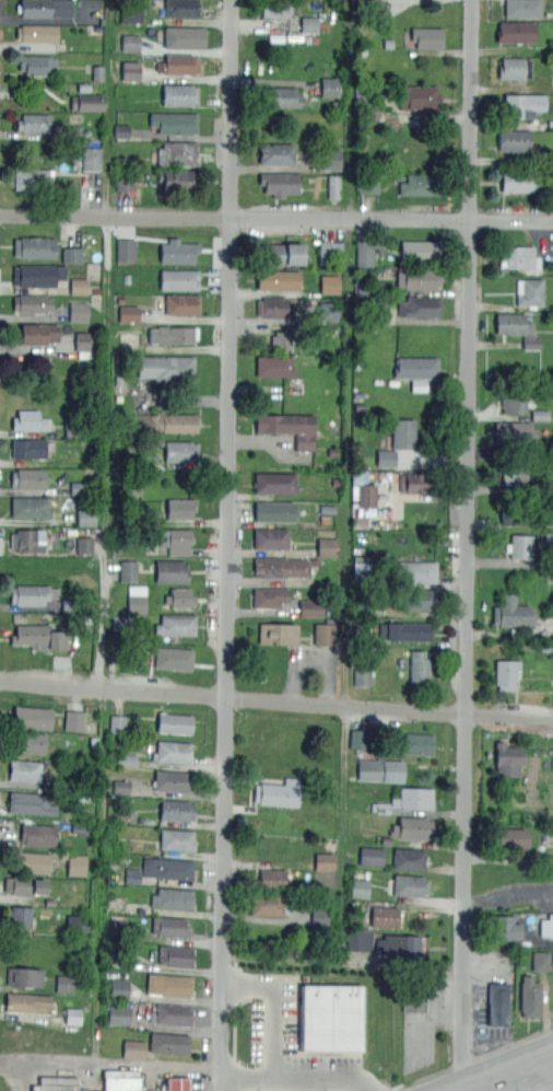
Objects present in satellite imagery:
building: (45, 8)
building: (180, 8)
building: (274, 8)
building: (521, 8)
building: (131, 15)
building: (309, 24)
building: (515, 31)
building: (36, 33)
building: (425, 36)
building: (184, 37)
building: (130, 43)
building: (36, 63)
building: (178, 63)
building: (514, 67)
building: (130, 70)
building: (330, 86)
building: (178, 94)
building: (417, 95)
building: (279, 96)
building: (87, 102)
building: (521, 105)
building: (175, 121)
building: (34, 123)
building: (121, 129)
building: (514, 140)
building: (275, 152)
building: (177, 153)
building: (91, 158)
building: (331, 159)
building: (32, 178)
building: (177, 179)
building: (518, 179)
building: (279, 183)
building: (368, 183)
building: (125, 184)
building: (420, 184)
building: (333, 186)
road: (276, 216)
building: (34, 247)
building: (126, 249)
building: (330, 249)
building: (177, 251)
building: (419, 251)
building: (364, 253)
building: (279, 254)
building: (72, 255)
building: (518, 257)
building: (37, 275)
building: (419, 278)
building: (179, 279)
building: (278, 279)
building: (330, 283)
building: (79, 286)
building: (529, 291)
building: (32, 303)
building: (181, 303)
building: (273, 306)
building: (420, 306)
building: (79, 312)
building: (328, 312)
building: (128, 314)
building: (381, 315)
building: (516, 327)
building: (35, 333)
building: (173, 334)
building: (281, 339)
building: (84, 341)
building: (274, 365)
building: (416, 367)
building: (167, 368)
building: (516, 401)
building: (540, 414)
building: (28, 420)
building: (164, 421)
building: (287, 428)
building: (515, 431)
building: (403, 432)
building: (28, 448)
building: (179, 451)
building: (386, 457)
building: (511, 475)
building: (28, 477)
building: (274, 483)
building: (417, 483)
building: (363, 495)
building: (30, 507)
building: (180, 508)
building: (274, 511)
building: (511, 514)
building: (85, 518)
road: (227, 535)
building: (270, 537)
building: (549, 537)
building: (27, 539)
building: (174, 539)
building: (84, 545)
road: (467, 545)
building: (519, 545)
building: (327, 546)
building: (280, 566)
building: (128, 570)
building: (172, 570)
building: (416, 570)
building: (33, 593)
building: (270, 596)
building: (180, 597)
building: (137, 599)
building: (420, 599)
building: (310, 607)
building: (511, 613)
road: (102, 620)
building: (176, 624)
building: (404, 629)
building: (278, 632)
building: (325, 634)
building: (37, 636)
building: (173, 658)
building: (420, 665)
building: (506, 673)
building: (362, 677)
road: (275, 699)
building: (63, 704)
building: (33, 717)
building: (73, 720)
building: (174, 722)
building: (118, 724)
building: (89, 727)
building: (360, 739)
building: (28, 742)
building: (94, 742)
building: (414, 743)
building: (173, 751)
building: (507, 758)
building: (125, 759)
building: (25, 769)
building: (380, 770)
building: (172, 780)
building: (121, 787)
building: (276, 792)
building: (413, 798)
building: (33, 802)
building: (380, 806)
building: (176, 810)
building: (123, 816)
building: (79, 827)
building: (411, 828)
building: (38, 835)
building: (511, 837)
building: (177, 839)
building: (385, 840)
building: (122, 848)
building: (59, 854)
building: (370, 856)
building: (409, 858)
building: (323, 861)
building: (28, 862)
building: (75, 864)
building: (167, 868)
building: (132, 875)
building: (269, 879)
building: (24, 885)
building: (410, 885)
building: (358, 887)
building: (172, 897)
building: (49, 902)
building: (267, 904)
building: (17, 916)
building: (319, 916)
building: (385, 916)
building: (358, 920)
building: (78, 925)
building: (118, 925)
building: (546, 926)
building: (170, 927)
building: (505, 928)
building: (358, 941)
building: (398, 944)
building: (176, 955)
building: (541, 961)
road: (485, 965)
building: (23, 976)
building: (63, 983)
building: (168, 984)
building: (119, 988)
parking lot: (491, 994)
building: (530, 996)
road: (278, 1000)
road: (481, 1000)
building: (414, 1002)
building: (28, 1003)
building: (496, 1007)
building: (144, 1010)
building: (118, 1014)
building: (172, 1014)
building: (72, 1015)
road: (423, 1015)
building: (331, 1017)
parking lot: (424, 1017)
building: (168, 1043)
building: (133, 1048)
parking lot: (296, 1054)
road: (108, 1064)
road: (507, 1071)
road: (301, 1072)
road: (30, 1076)
road: (196, 1080)
road: (219, 1080)
building: (120, 1083)
building: (61, 1084)
building: (174, 1084)
parking lot: (198, 1084)

